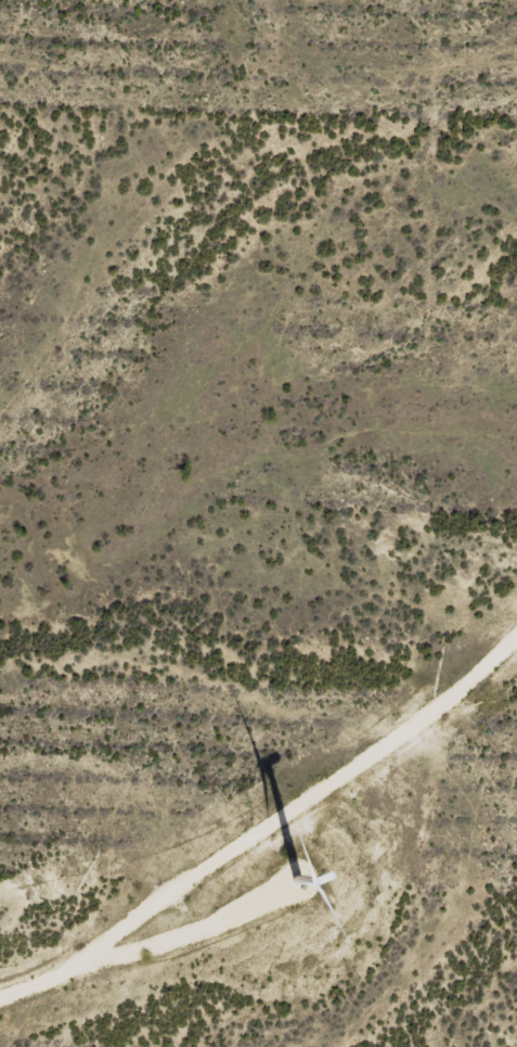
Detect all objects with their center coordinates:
road: (268, 828)
wind turbine: (290, 882)

